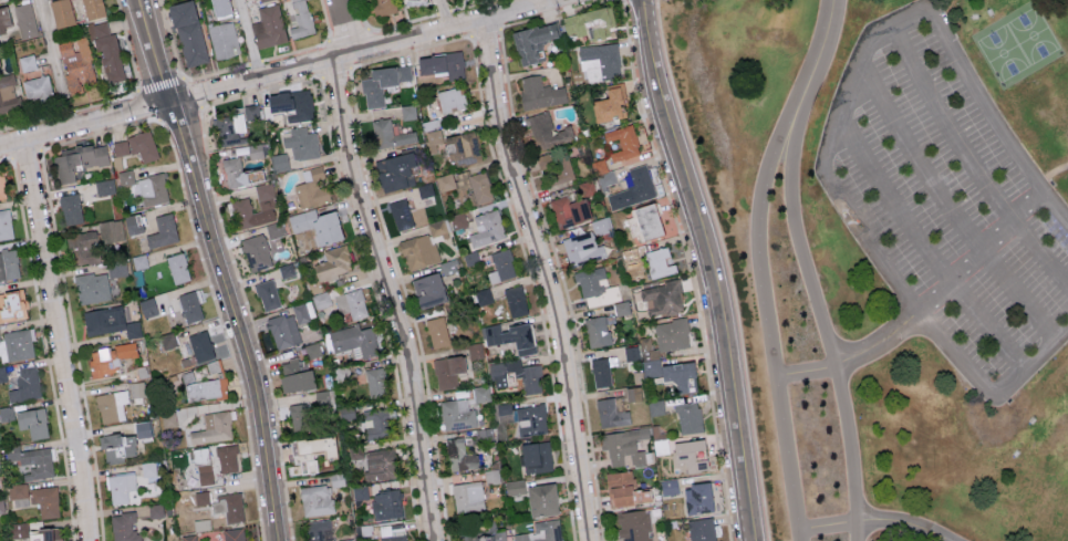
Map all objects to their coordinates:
building: (259, 0)
building: (411, 1)
road: (541, 2)
road: (551, 2)
building: (220, 7)
building: (382, 7)
building: (93, 8)
road: (516, 11)
building: (61, 12)
road: (442, 15)
building: (4, 18)
building: (300, 19)
building: (25, 20)
building: (589, 22)
building: (268, 25)
road: (346, 27)
building: (188, 32)
road: (422, 37)
building: (224, 39)
road: (248, 40)
building: (531, 41)
park: (1020, 45)
road: (822, 50)
building: (107, 53)
road: (345, 58)
building: (599, 61)
building: (28, 62)
building: (76, 63)
building: (431, 63)
building: (454, 63)
building: (0, 64)
road: (53, 64)
road: (136, 77)
building: (382, 82)
building: (37, 87)
building: (8, 92)
building: (539, 92)
building: (450, 98)
building: (291, 103)
road: (148, 104)
road: (167, 104)
building: (609, 104)
building: (251, 111)
building: (407, 111)
road: (66, 112)
road: (30, 122)
building: (229, 127)
building: (546, 131)
road: (98, 133)
building: (390, 134)
road: (833, 135)
building: (622, 142)
building: (301, 143)
building: (136, 145)
building: (454, 145)
building: (255, 149)
road: (25, 153)
road: (6, 158)
building: (79, 159)
road: (967, 159)
building: (279, 162)
building: (599, 165)
building: (394, 169)
building: (232, 171)
building: (251, 174)
building: (125, 177)
building: (639, 183)
building: (467, 184)
building: (2, 186)
building: (104, 186)
building: (311, 186)
building: (153, 188)
building: (427, 190)
parking lot: (950, 201)
building: (240, 205)
building: (70, 208)
road: (948, 208)
building: (569, 210)
building: (401, 214)
building: (458, 219)
building: (646, 220)
building: (134, 222)
building: (6, 225)
building: (317, 225)
building: (601, 225)
building: (437, 228)
building: (274, 229)
building: (111, 230)
building: (163, 230)
building: (581, 246)
park: (890, 246)
building: (83, 248)
building: (418, 250)
road: (924, 250)
building: (255, 251)
road: (978, 253)
building: (470, 257)
building: (139, 261)
building: (659, 261)
building: (333, 262)
building: (9, 263)
building: (501, 264)
building: (448, 266)
road: (713, 267)
building: (177, 268)
road: (219, 268)
building: (287, 269)
road: (546, 278)
building: (591, 281)
building: (92, 287)
building: (427, 289)
building: (267, 293)
building: (662, 298)
road: (392, 299)
building: (485, 300)
building: (515, 300)
building: (342, 301)
building: (12, 304)
building: (189, 305)
building: (147, 306)
building: (621, 306)
building: (303, 311)
road: (767, 315)
road: (820, 319)
building: (103, 320)
road: (222, 326)
building: (133, 327)
building: (283, 330)
building: (436, 331)
building: (597, 331)
building: (671, 333)
building: (511, 336)
building: (168, 340)
road: (60, 341)
building: (352, 341)
building: (15, 344)
road: (73, 344)
building: (200, 345)
road: (45, 348)
building: (312, 350)
building: (475, 351)
building: (631, 352)
building: (108, 357)
road: (851, 361)
building: (211, 366)
building: (665, 366)
building: (447, 371)
building: (600, 371)
building: (2, 373)
building: (294, 374)
building: (517, 374)
building: (376, 382)
building: (25, 384)
building: (204, 387)
building: (137, 388)
building: (633, 393)
building: (321, 397)
building: (111, 405)
building: (656, 406)
building: (298, 409)
building: (4, 413)
building: (610, 413)
building: (457, 414)
building: (687, 416)
building: (526, 418)
building: (31, 422)
building: (376, 422)
building: (144, 427)
building: (212, 428)
building: (117, 446)
building: (625, 446)
building: (312, 449)
building: (355, 450)
building: (459, 454)
building: (199, 455)
building: (688, 455)
building: (536, 457)
building: (227, 458)
building: (30, 461)
building: (379, 464)
building: (148, 471)
building: (205, 474)
building: (491, 476)
building: (668, 486)
building: (120, 487)
building: (624, 488)
building: (18, 495)
building: (467, 496)
building: (535, 496)
building: (201, 497)
building: (697, 498)
building: (186, 499)
building: (315, 499)
building: (44, 500)
building: (385, 503)
building: (1, 506)
building: (228, 508)
building: (155, 510)
road: (869, 523)
building: (634, 524)
building: (123, 527)
building: (18, 529)
building: (701, 529)
building: (319, 530)
building: (393, 532)
building: (42, 533)
building: (234, 534)
building: (486, 535)
parking lot: (950, 537)
building: (188, 538)
road: (944, 538)
building: (345, 539)

